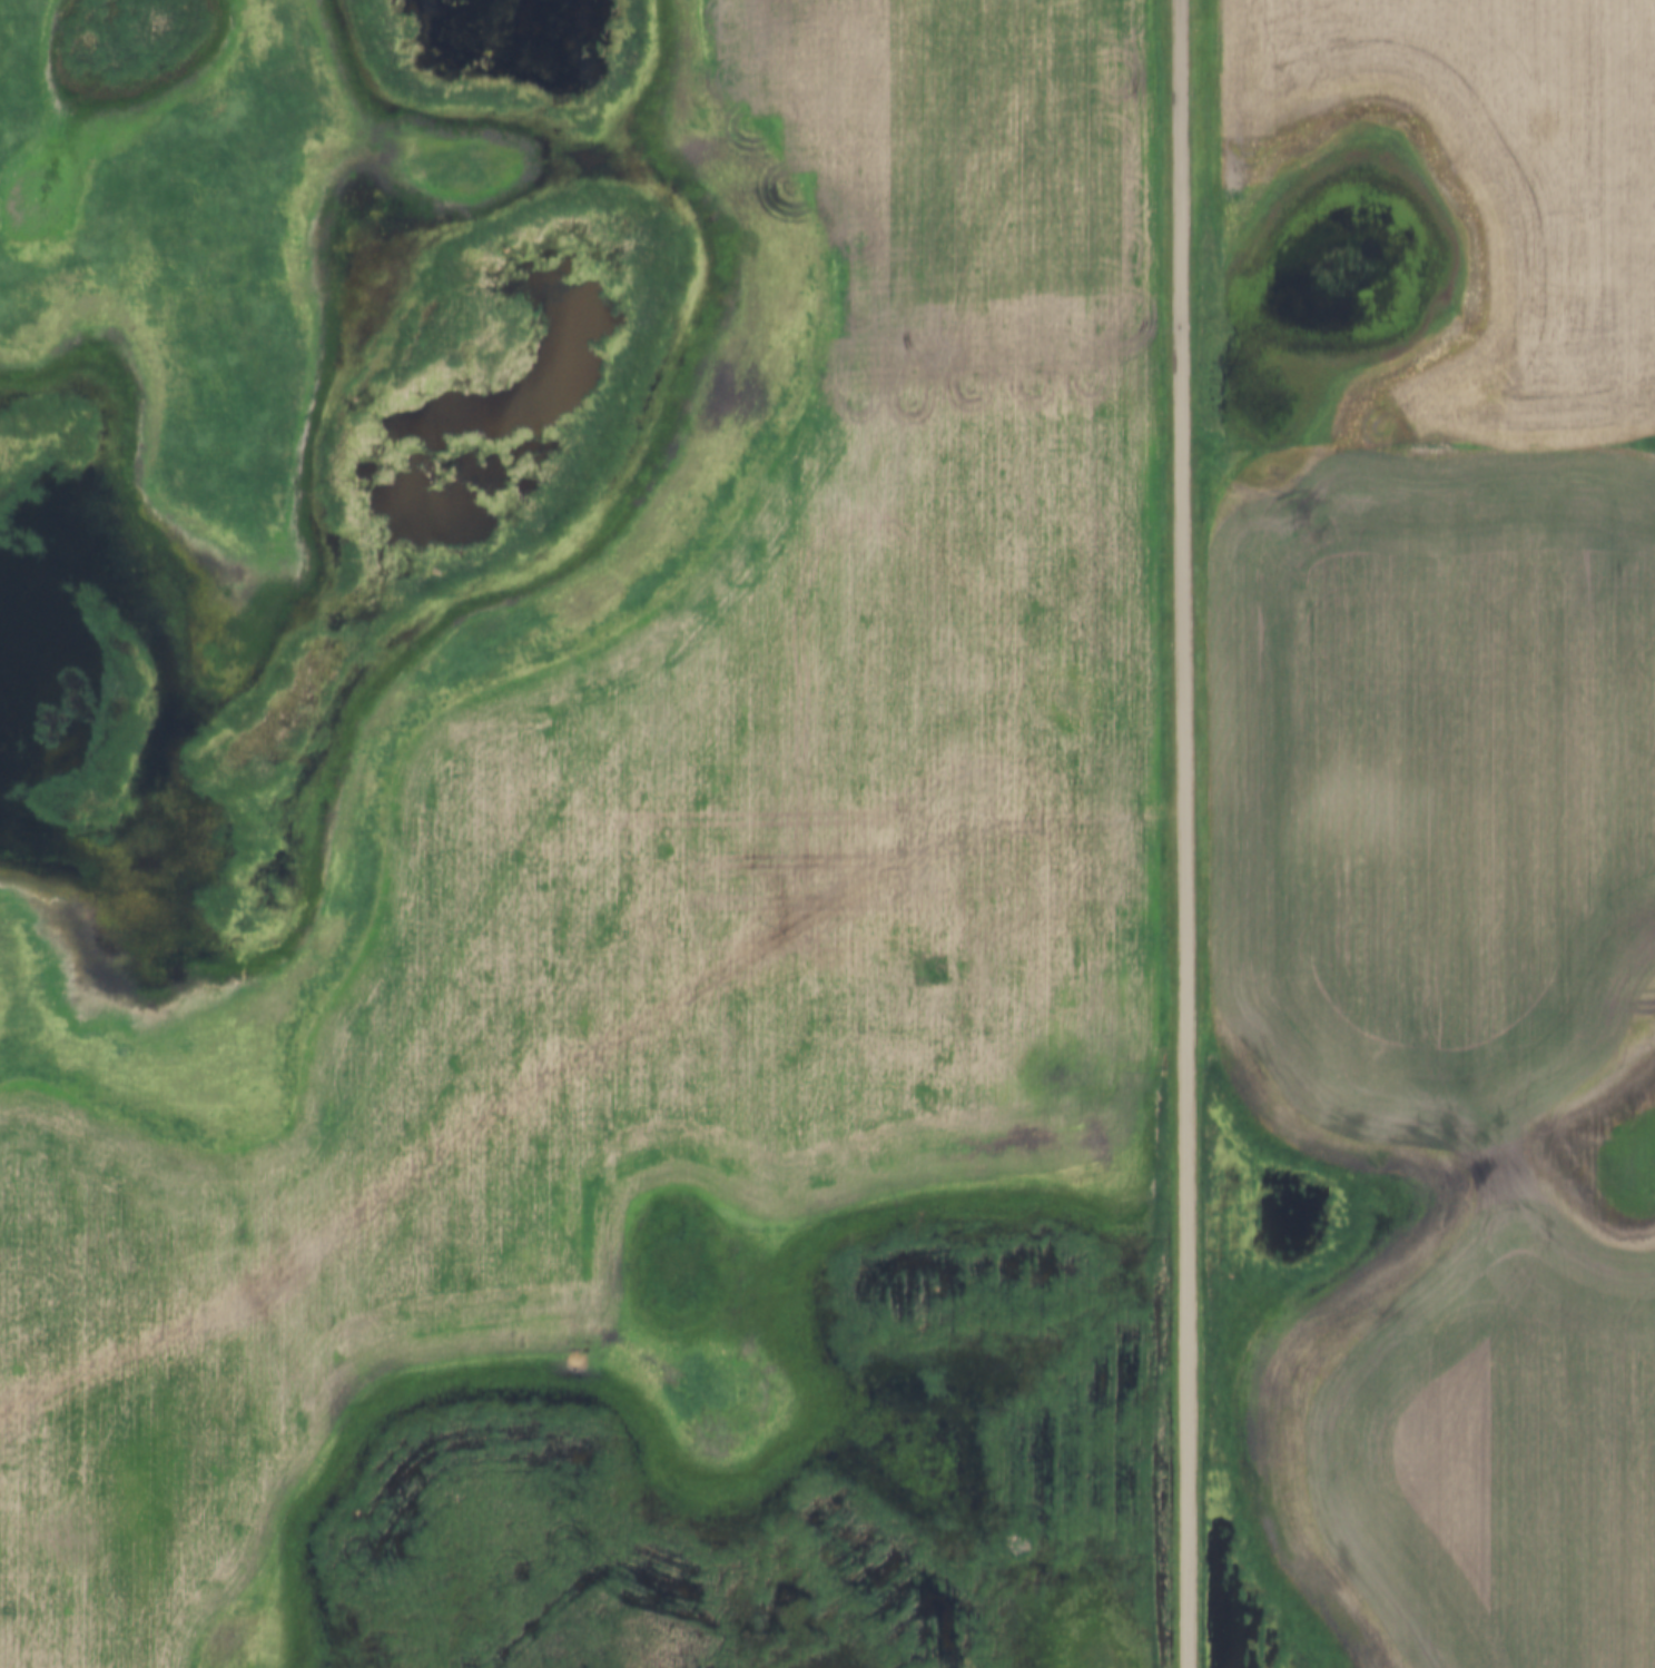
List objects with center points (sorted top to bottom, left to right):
road: (1182, 833)

